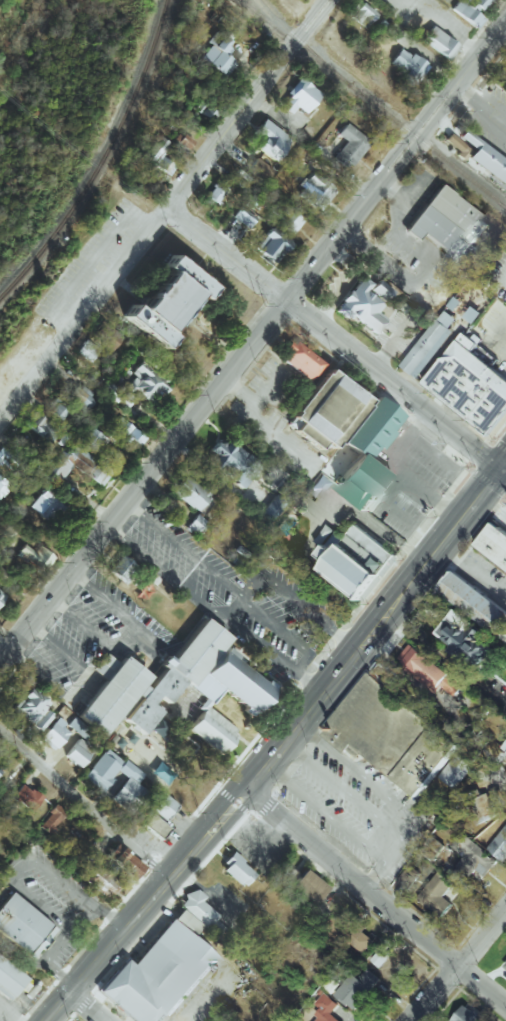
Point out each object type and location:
building: (468, 10)
building: (361, 12)
road: (444, 27)
building: (438, 42)
railway: (303, 44)
road: (462, 48)
building: (216, 54)
building: (406, 65)
building: (504, 77)
building: (298, 96)
railway: (372, 103)
road: (479, 107)
building: (269, 140)
building: (183, 141)
building: (348, 145)
building: (160, 158)
railway: (99, 159)
building: (484, 159)
building: (258, 169)
building: (311, 189)
building: (215, 190)
road: (408, 190)
building: (248, 201)
road: (164, 209)
building: (242, 217)
building: (288, 222)
building: (447, 223)
building: (270, 245)
road: (421, 272)
building: (380, 289)
road: (332, 300)
building: (166, 301)
building: (362, 308)
parking lot: (491, 332)
building: (103, 335)
road: (332, 336)
road: (253, 338)
road: (501, 341)
road: (394, 342)
building: (428, 346)
building: (86, 349)
building: (298, 359)
building: (471, 386)
building: (135, 387)
building: (77, 399)
building: (56, 408)
building: (326, 410)
road: (259, 428)
building: (43, 429)
road: (493, 435)
building: (91, 439)
building: (368, 453)
building: (7, 459)
building: (233, 462)
building: (75, 466)
road: (503, 468)
road: (402, 471)
parking lot: (406, 479)
building: (2, 485)
building: (318, 485)
building: (191, 494)
road: (492, 503)
building: (45, 505)
building: (270, 508)
road: (367, 519)
building: (196, 524)
building: (494, 543)
road: (183, 549)
building: (34, 557)
building: (356, 559)
building: (505, 567)
building: (122, 569)
road: (471, 574)
parking lot: (238, 590)
building: (145, 591)
building: (1, 595)
road: (101, 597)
building: (476, 602)
road: (233, 609)
building: (505, 621)
building: (454, 622)
road: (80, 623)
road: (287, 637)
parking lot: (87, 638)
road: (121, 639)
building: (469, 643)
road: (59, 649)
road: (274, 656)
road: (444, 659)
road: (100, 664)
building: (427, 670)
building: (386, 673)
road: (37, 675)
road: (80, 688)
building: (122, 689)
building: (29, 705)
building: (430, 706)
building: (41, 720)
building: (392, 733)
building: (53, 734)
building: (76, 743)
road: (279, 743)
building: (504, 746)
building: (505, 755)
building: (102, 769)
building: (456, 770)
road: (366, 778)
road: (498, 778)
building: (128, 788)
building: (25, 797)
road: (355, 797)
building: (480, 806)
road: (83, 807)
building: (162, 807)
building: (51, 819)
road: (337, 822)
building: (154, 825)
road: (267, 831)
building: (499, 844)
building: (471, 856)
building: (124, 861)
building: (235, 869)
road: (9, 879)
building: (407, 879)
building: (100, 880)
building: (302, 884)
building: (451, 893)
building: (436, 894)
road: (373, 896)
parking lot: (56, 904)
building: (197, 908)
building: (23, 926)
building: (350, 931)
building: (379, 958)
road: (458, 964)
building: (505, 964)
building: (158, 976)
building: (9, 979)
building: (358, 987)
road: (83, 1006)
building: (327, 1008)
road: (9, 1013)
building: (467, 1014)

